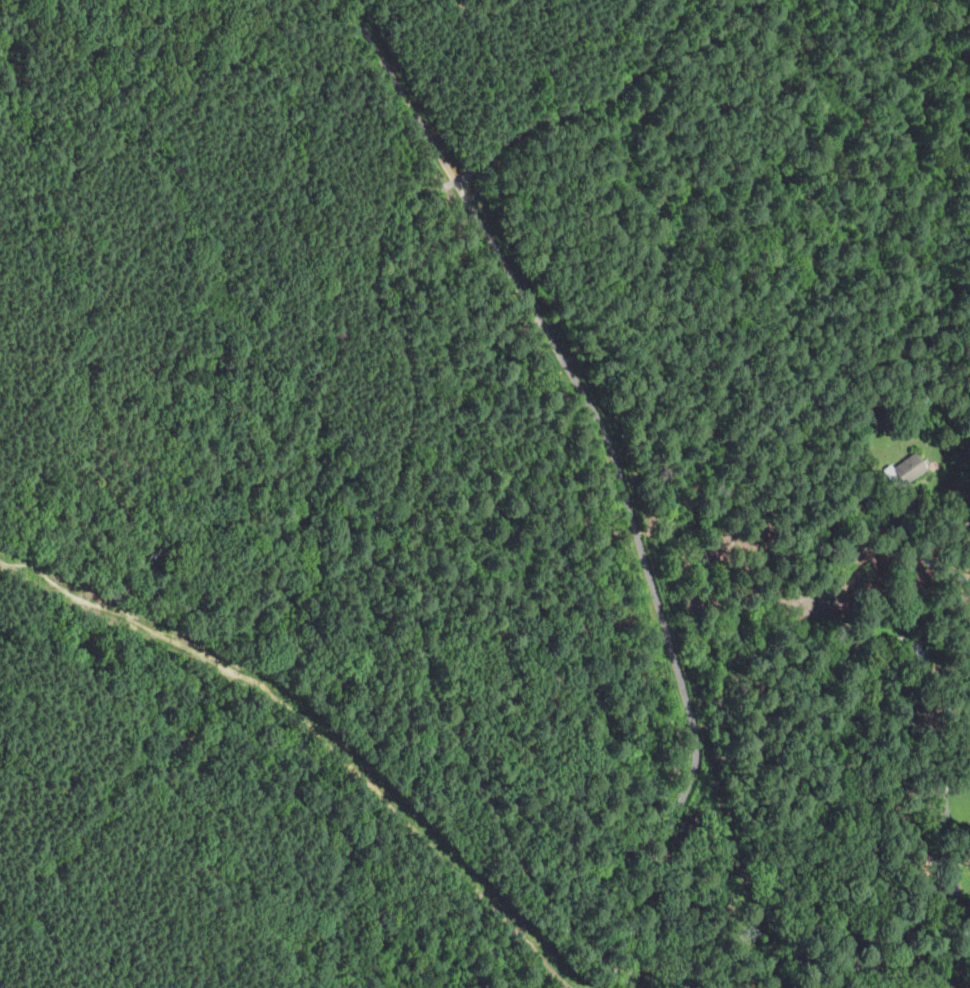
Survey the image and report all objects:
road: (131, 3)
road: (922, 6)
road: (500, 7)
road: (921, 21)
road: (158, 116)
road: (961, 129)
road: (920, 160)
road: (273, 168)
road: (338, 268)
road: (794, 295)
road: (239, 393)
road: (4, 402)
road: (403, 440)
road: (72, 451)
road: (619, 469)
building: (904, 471)
road: (260, 501)
road: (936, 519)
road: (174, 532)
building: (857, 541)
building: (912, 574)
street lamp: (969, 653)
building: (915, 656)
road: (192, 719)
building: (923, 720)
road: (134, 723)
building: (884, 726)
building: (907, 773)
building: (934, 807)
building: (946, 876)
road: (271, 880)
road: (926, 938)
road: (32, 953)
road: (949, 957)
road: (625, 982)

